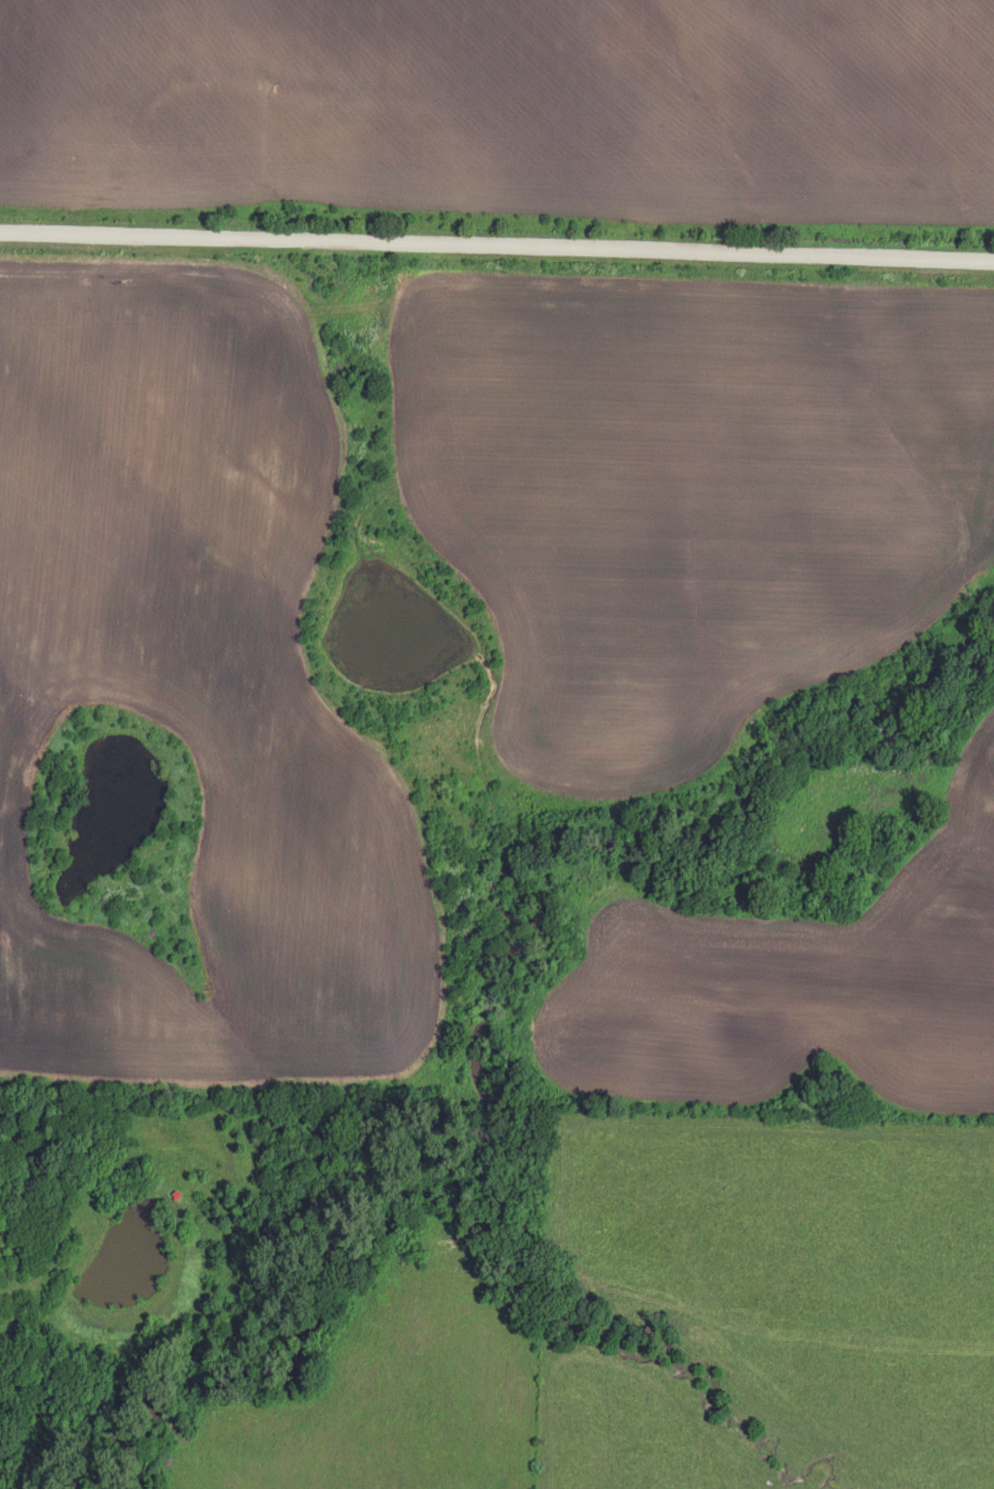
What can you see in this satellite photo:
road: (496, 247)

